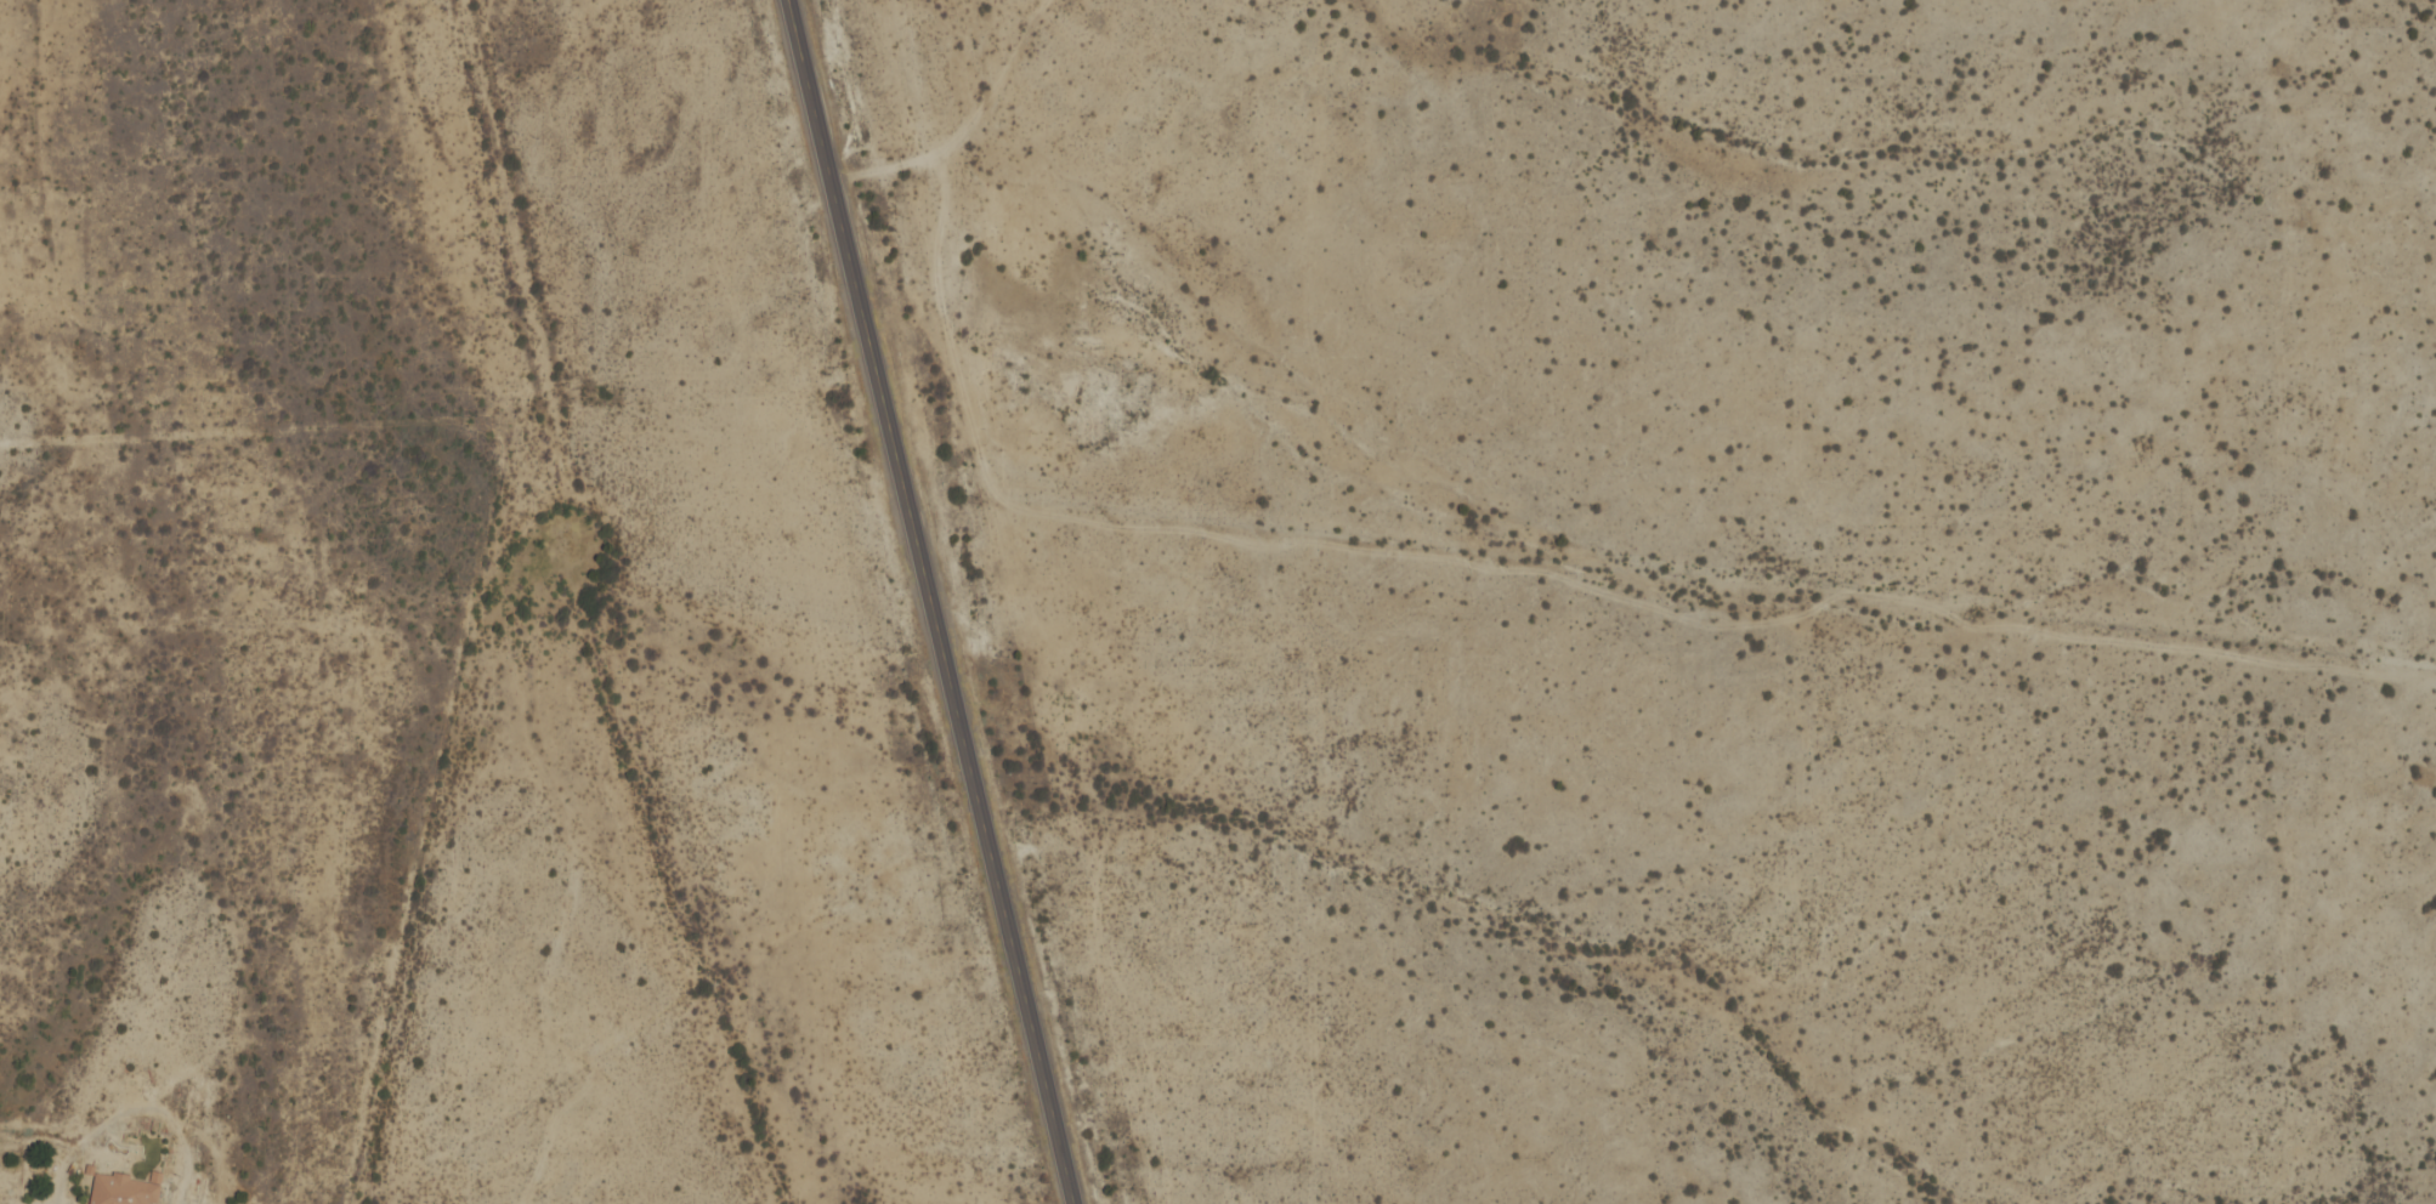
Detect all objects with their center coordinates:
road: (935, 61)
road: (933, 602)

